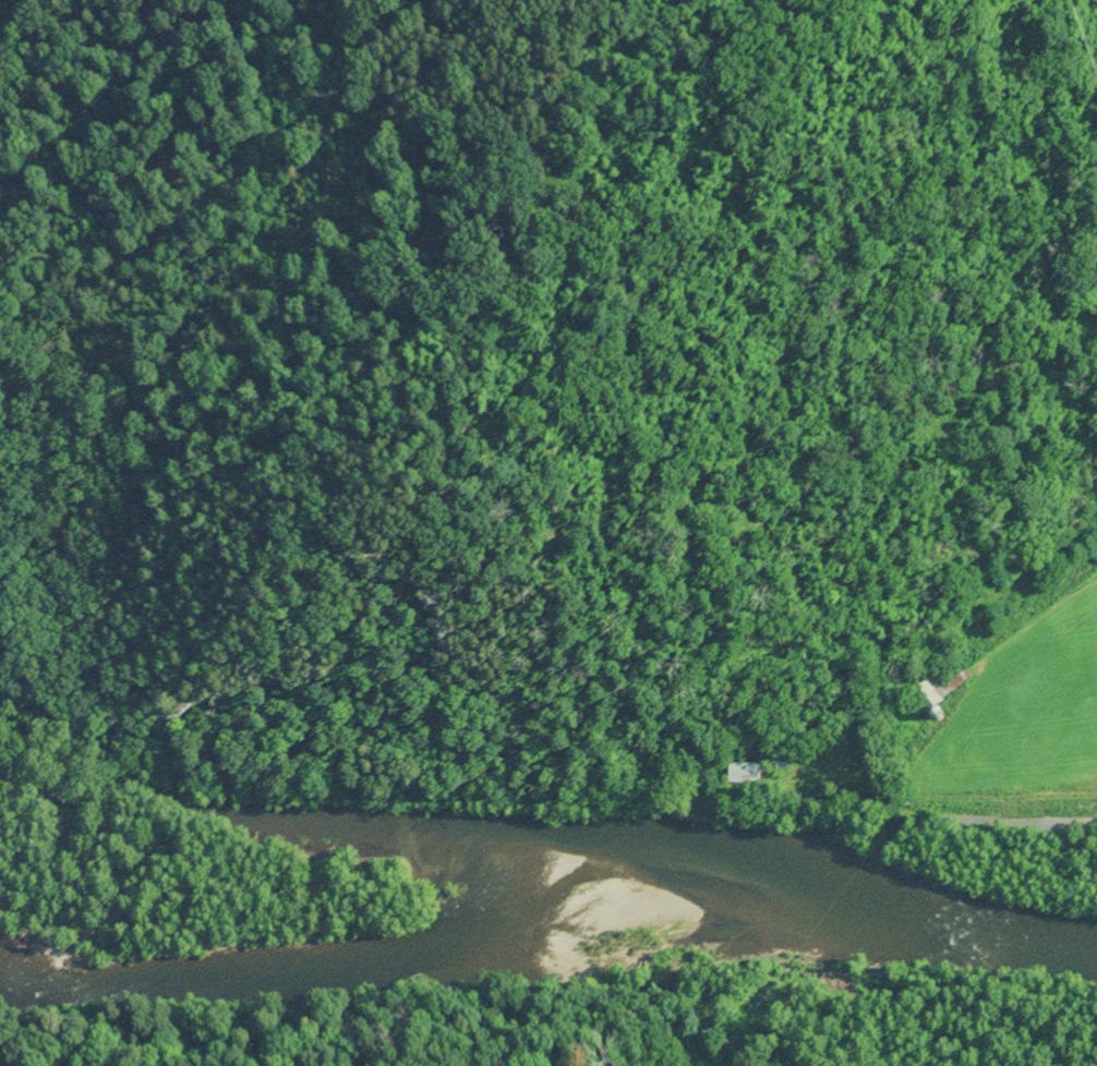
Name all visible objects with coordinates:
building: (942, 688)
building: (748, 774)
road: (993, 809)
river: (548, 932)

